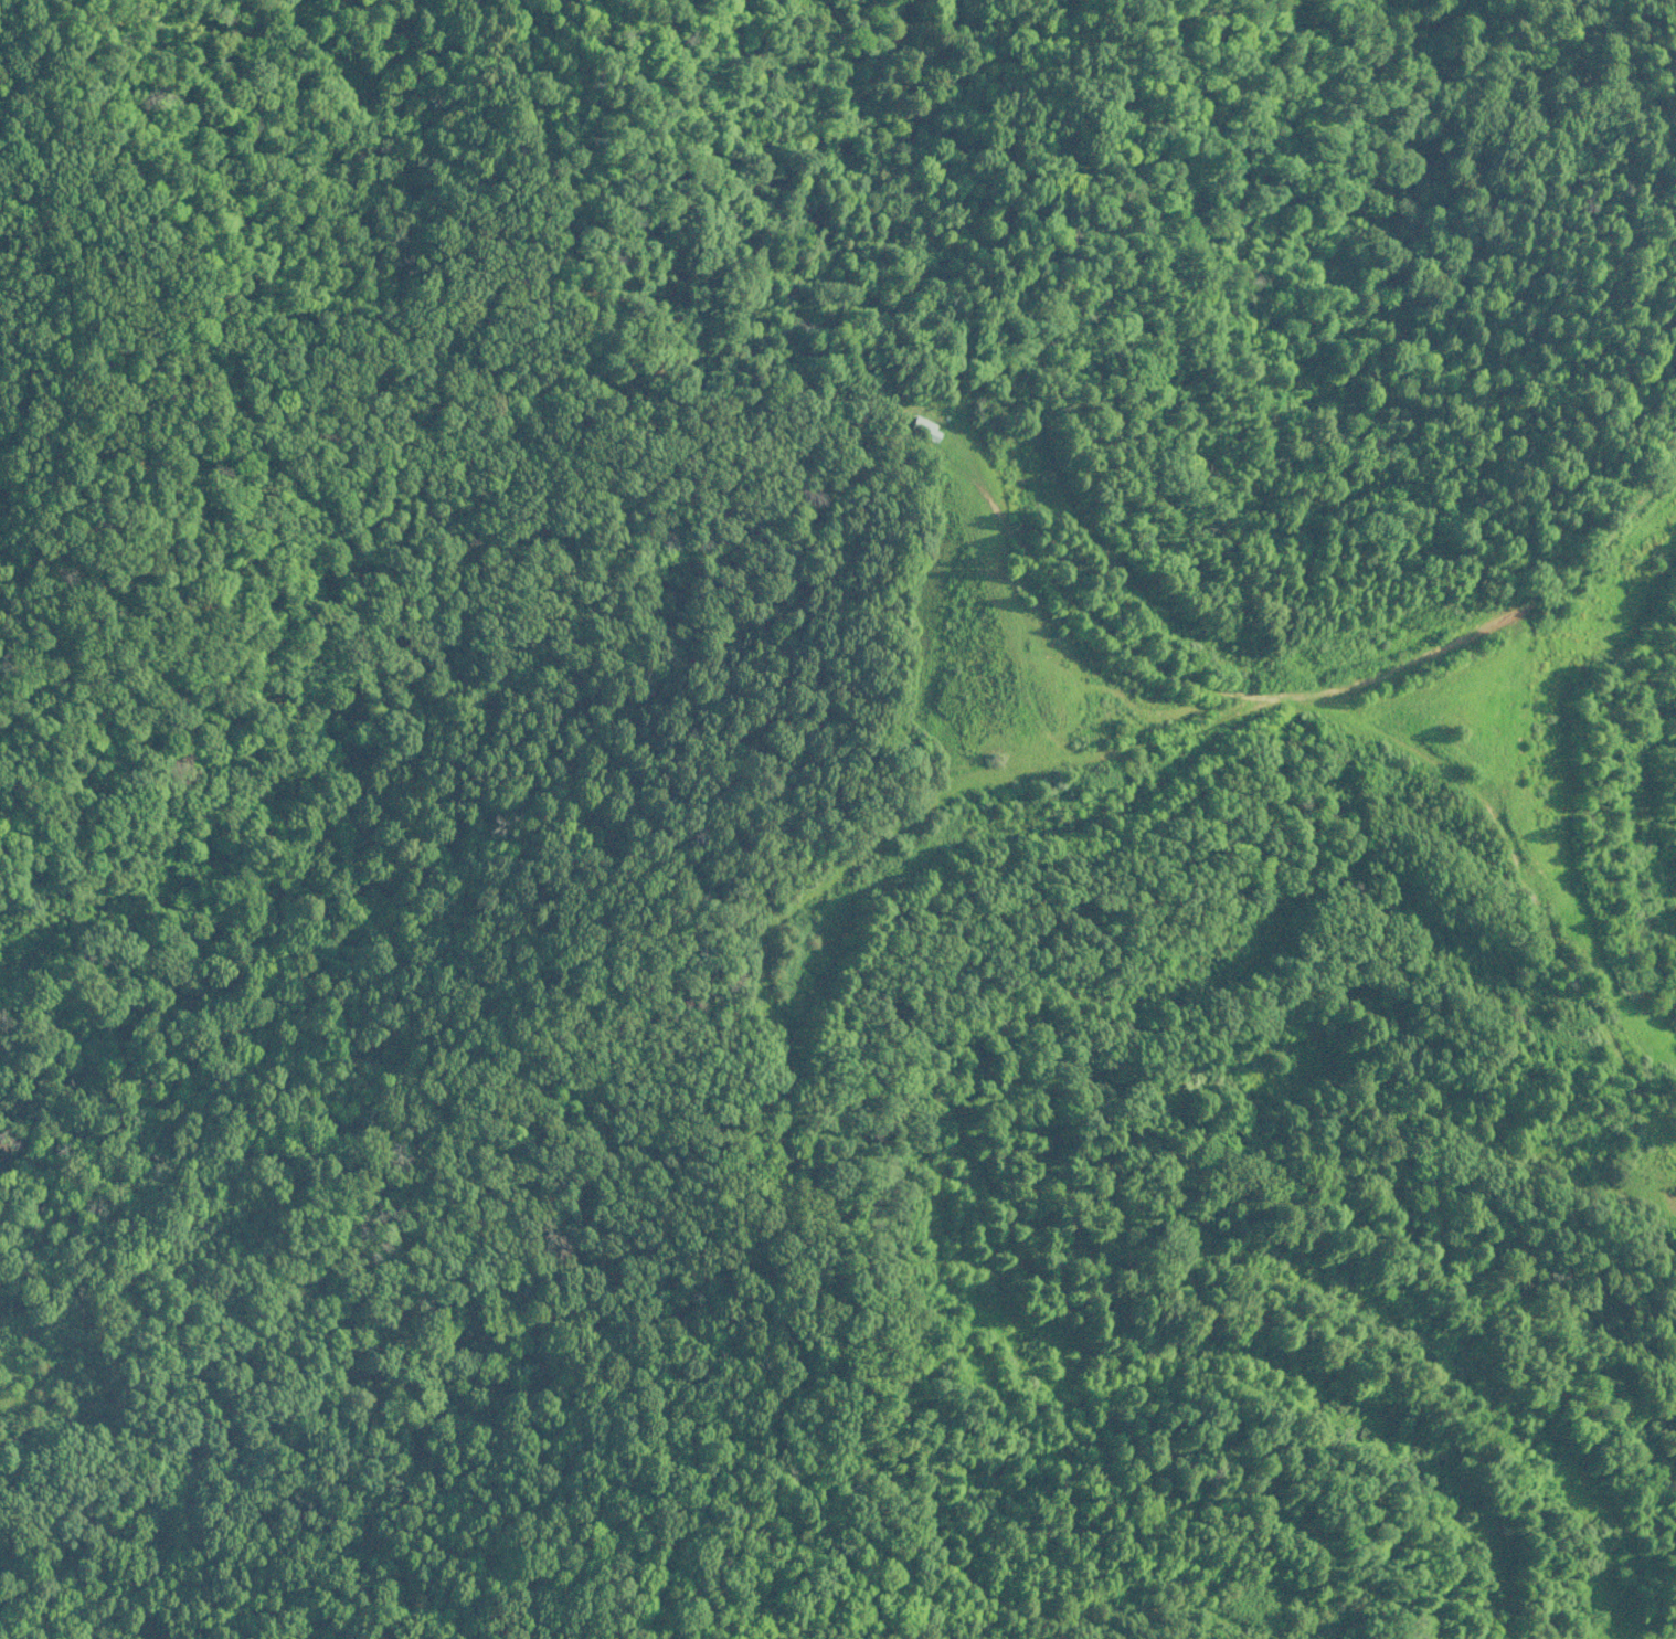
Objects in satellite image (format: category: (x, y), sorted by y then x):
building: (926, 430)

